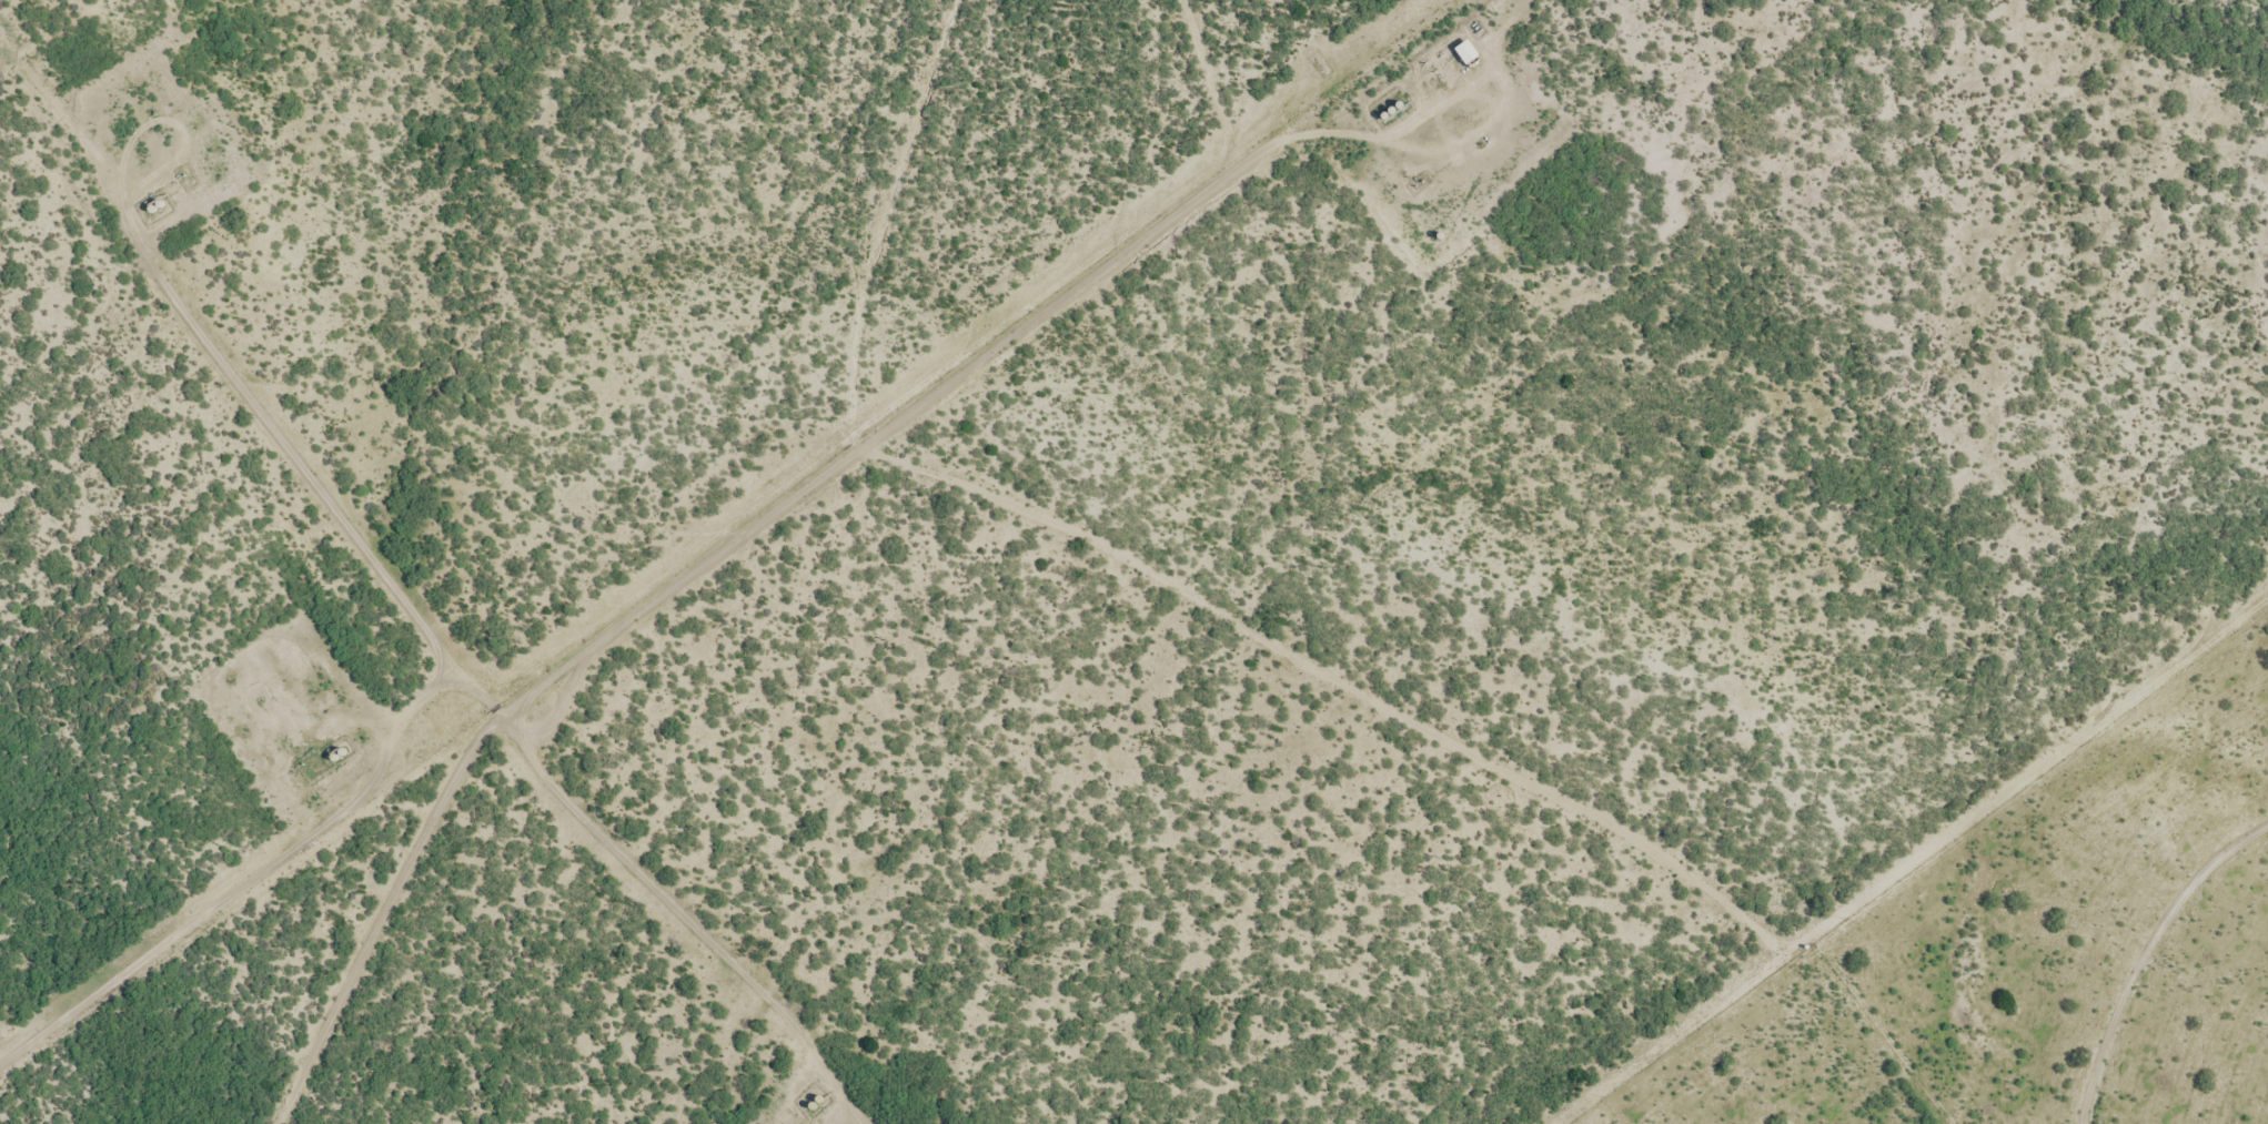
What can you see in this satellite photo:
road: (1945, 884)
road: (2187, 999)

